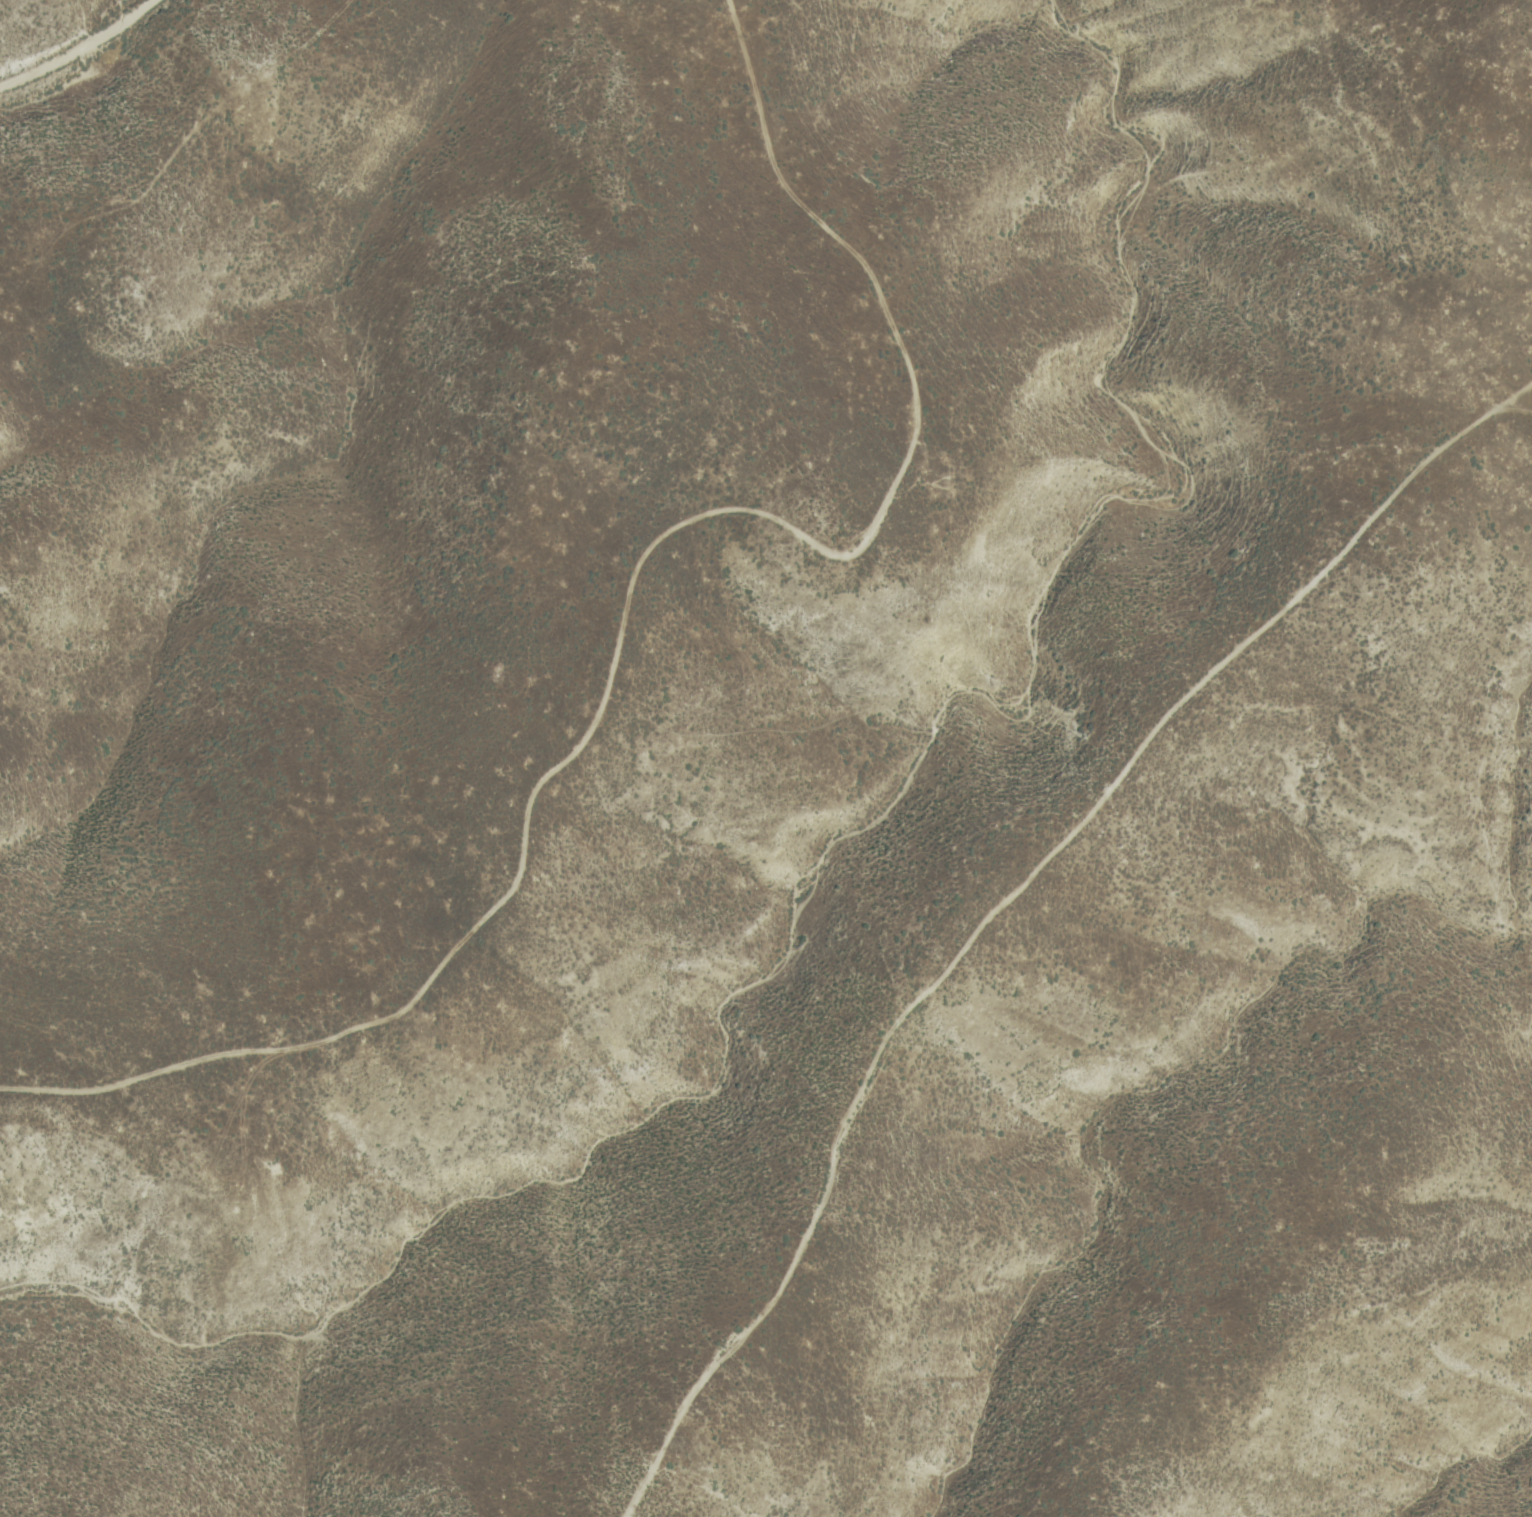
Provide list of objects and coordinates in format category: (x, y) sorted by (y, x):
road: (80, 48)
road: (635, 597)
road: (1012, 898)

